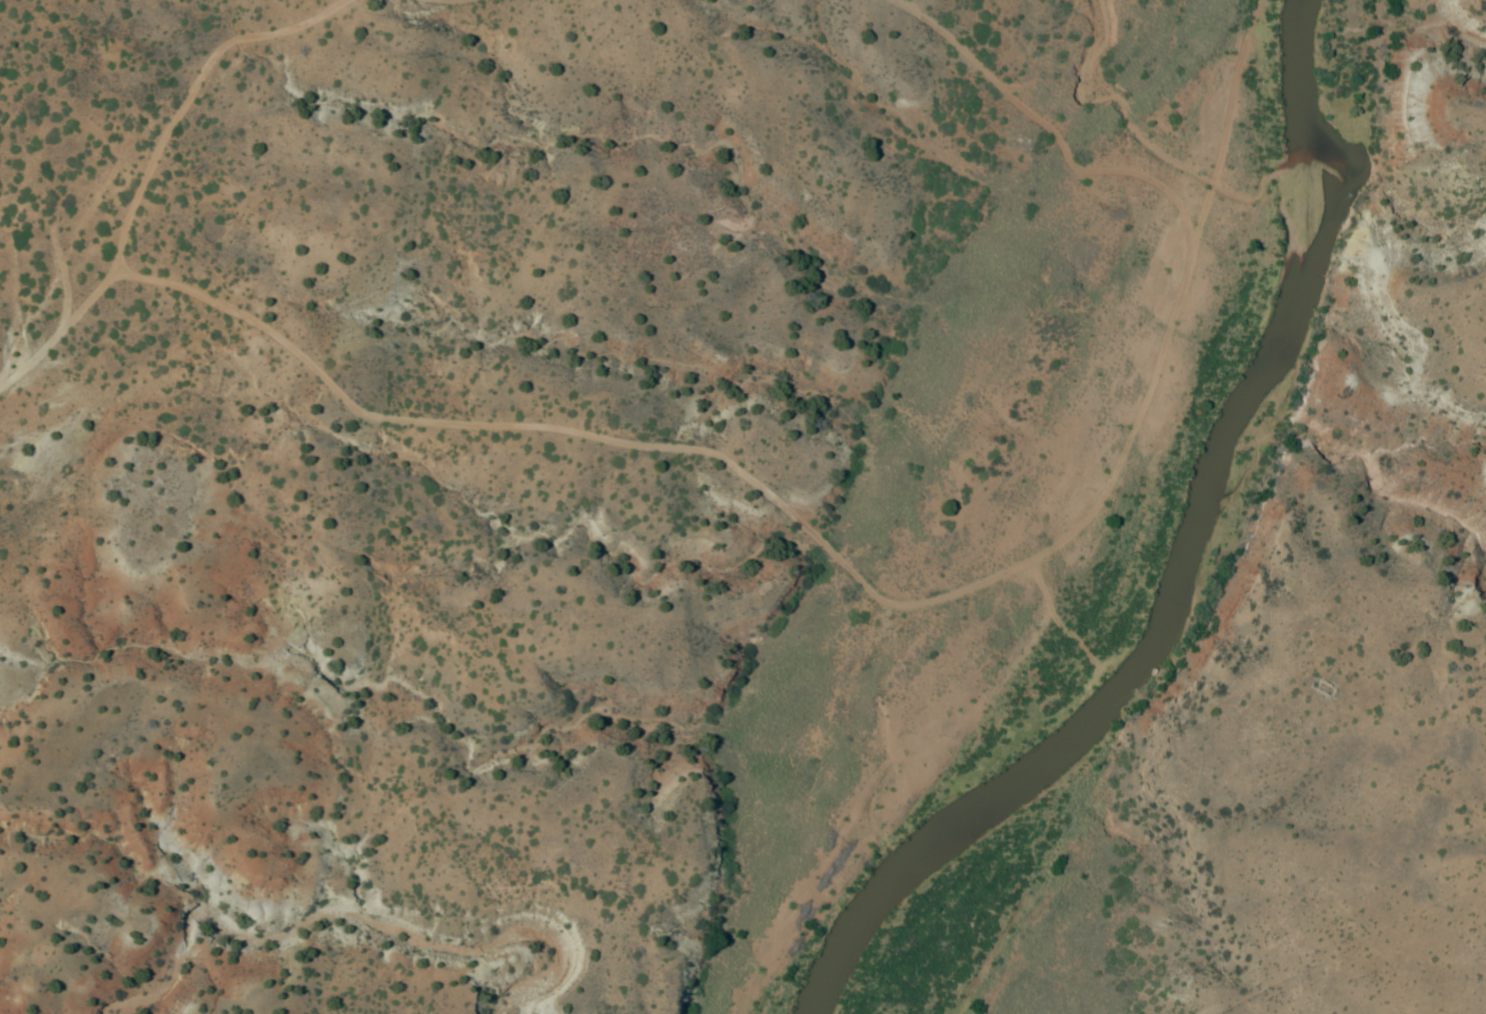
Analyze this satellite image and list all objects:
road: (466, 475)
river: (1186, 569)

